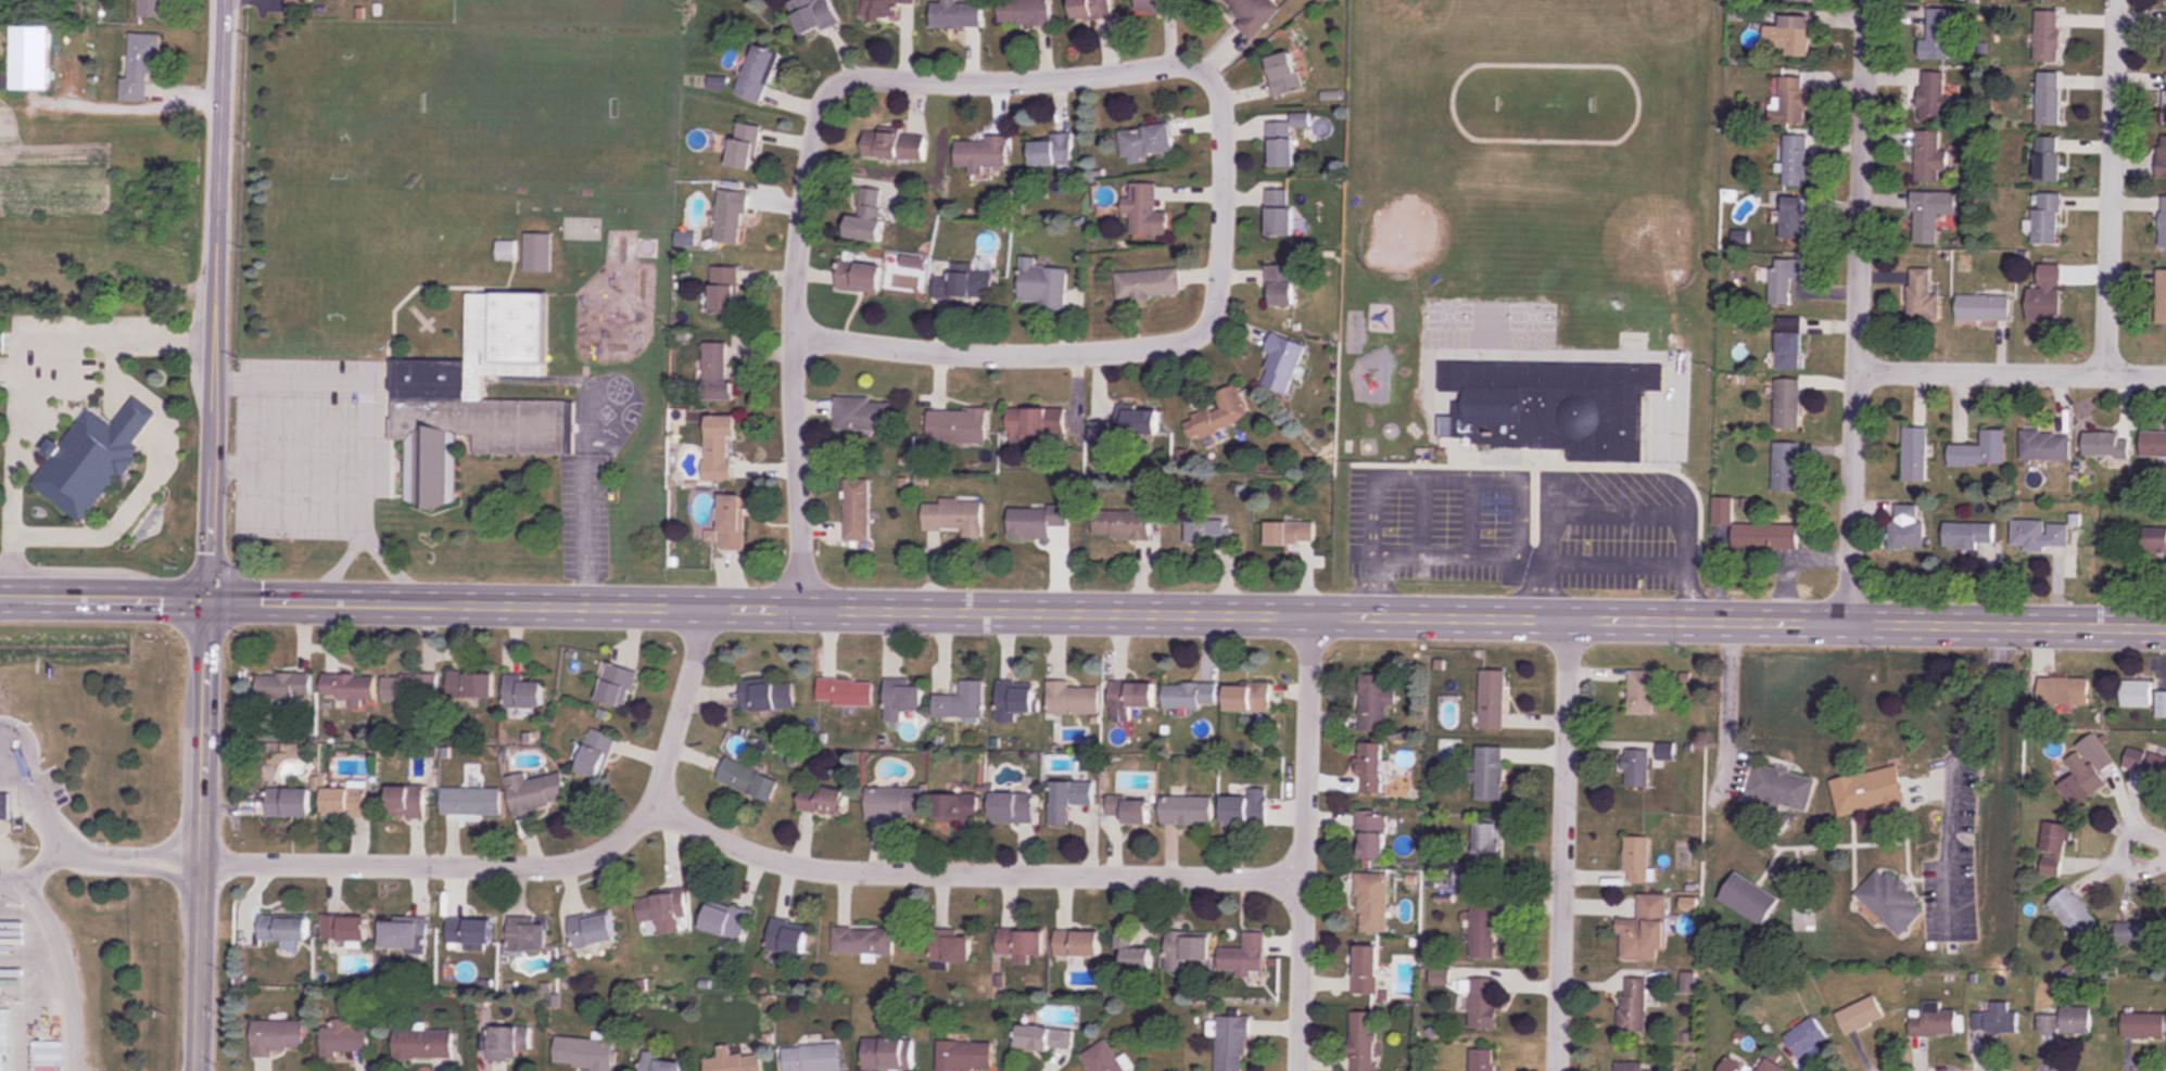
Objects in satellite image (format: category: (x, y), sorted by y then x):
building: (1800, 0)
building: (301, 2)
building: (1160, 5)
building: (153, 9)
building: (879, 9)
building: (1090, 9)
building: (1025, 12)
building: (1253, 14)
building: (811, 15)
building: (955, 15)
building: (1790, 35)
building: (1938, 35)
building: (2048, 35)
building: (2165, 39)
building: (29, 56)
building: (140, 65)
building: (1283, 74)
building: (758, 75)
road: (1038, 78)
building: (1789, 97)
building: (1936, 97)
building: (2049, 97)
road: (137, 99)
building: (2165, 99)
building: (1147, 140)
building: (1281, 143)
building: (892, 144)
building: (744, 145)
building: (1051, 150)
building: (980, 153)
building: (1928, 155)
building: (2162, 156)
building: (2048, 157)
building: (1796, 158)
road: (2113, 183)
building: (1279, 212)
building: (1145, 213)
building: (1929, 213)
building: (730, 217)
building: (1795, 217)
building: (2047, 218)
building: (869, 219)
building: (2163, 221)
building: (506, 250)
building: (537, 251)
building: (859, 276)
building: (1786, 279)
building: (964, 282)
building: (1284, 283)
building: (1041, 284)
building: (1148, 284)
building: (723, 289)
building: (1922, 295)
building: (2045, 295)
building: (2161, 296)
road: (219, 298)
building: (1984, 307)
road: (1858, 310)
building: (1458, 334)
road: (194, 341)
building: (1789, 343)
road: (1048, 350)
road: (15, 358)
building: (1282, 364)
road: (2011, 365)
building: (715, 370)
road: (112, 375)
road: (228, 378)
road: (68, 388)
building: (469, 390)
building: (1788, 404)
building: (1545, 407)
road: (798, 411)
building: (861, 413)
building: (1219, 415)
road: (137, 417)
road: (242, 418)
building: (1140, 421)
building: (1036, 422)
building: (957, 425)
building: (1101, 435)
building: (2104, 443)
building: (2153, 444)
building: (2045, 445)
building: (718, 446)
building: (1980, 450)
building: (1915, 454)
building: (91, 458)
road: (226, 458)
building: (1786, 467)
building: (857, 509)
building: (954, 515)
road: (119, 519)
building: (1036, 520)
building: (731, 521)
building: (1122, 523)
road: (578, 526)
building: (1907, 527)
building: (1756, 530)
road: (358, 531)
building: (1205, 532)
building: (2039, 533)
building: (1967, 534)
building: (2155, 538)
road: (1449, 556)
road: (1642, 561)
road: (13, 565)
road: (1542, 577)
road: (1372, 584)
road: (7, 597)
road: (113, 598)
traffic signals: (212, 598)
road: (1189, 611)
building: (469, 684)
building: (283, 685)
building: (347, 686)
building: (616, 686)
building: (409, 687)
building: (521, 691)
building: (845, 692)
building: (1643, 692)
building: (2064, 692)
building: (2136, 692)
building: (1131, 693)
road: (1725, 693)
building: (1190, 694)
building: (768, 696)
building: (1249, 696)
building: (901, 698)
building: (1072, 698)
building: (1016, 699)
building: (1492, 699)
building: (962, 701)
building: (1376, 701)
building: (2162, 704)
building: (595, 754)
building: (2144, 763)
building: (1370, 766)
road: (1951, 767)
building: (2088, 768)
building: (1636, 770)
building: (1489, 774)
building: (747, 780)
building: (1781, 788)
building: (535, 792)
building: (1869, 792)
road: (26, 794)
building: (1068, 799)
building: (823, 800)
building: (470, 801)
building: (288, 802)
building: (344, 802)
building: (405, 802)
building: (894, 803)
building: (4, 805)
building: (954, 807)
building: (1012, 807)
building: (1245, 807)
building: (1128, 809)
building: (1187, 809)
road: (203, 833)
building: (1371, 834)
road: (1304, 842)
road: (1566, 842)
building: (2053, 850)
road: (2123, 850)
road: (132, 853)
building: (1480, 856)
building: (1636, 860)
road: (41, 866)
road: (543, 866)
road: (139, 868)
road: (970, 874)
building: (1749, 898)
building: (1372, 903)
building: (1889, 903)
building: (662, 910)
building: (2074, 913)
building: (725, 921)
building: (343, 928)
building: (282, 929)
building: (591, 930)
building: (1483, 931)
building: (403, 934)
building: (469, 934)
building: (527, 934)
building: (2138, 934)
building: (788, 936)
building: (863, 941)
building: (1021, 942)
building: (1077, 943)
building: (950, 946)
building: (1187, 948)
building: (1131, 952)
building: (1244, 956)
road: (64, 959)
building: (1366, 970)
parking lot: (27, 996)
road: (46, 996)
building: (1483, 1004)
building: (1632, 1005)
building: (1860, 1015)
building: (2076, 1020)
building: (1994, 1021)
building: (1934, 1023)
building: (2048, 1024)
building: (2143, 1025)
building: (277, 1036)
building: (1807, 1037)
building: (345, 1038)
building: (1044, 1038)
building: (1361, 1042)
building: (1231, 1043)
building: (508, 1044)
building: (422, 1045)
building: (584, 1054)
building: (887, 1054)
building: (964, 1056)
building: (812, 1058)
building: (1103, 1058)
building: (1482, 1060)
building: (733, 1061)
building: (1775, 1063)
building: (659, 1064)
building: (1630, 1066)

